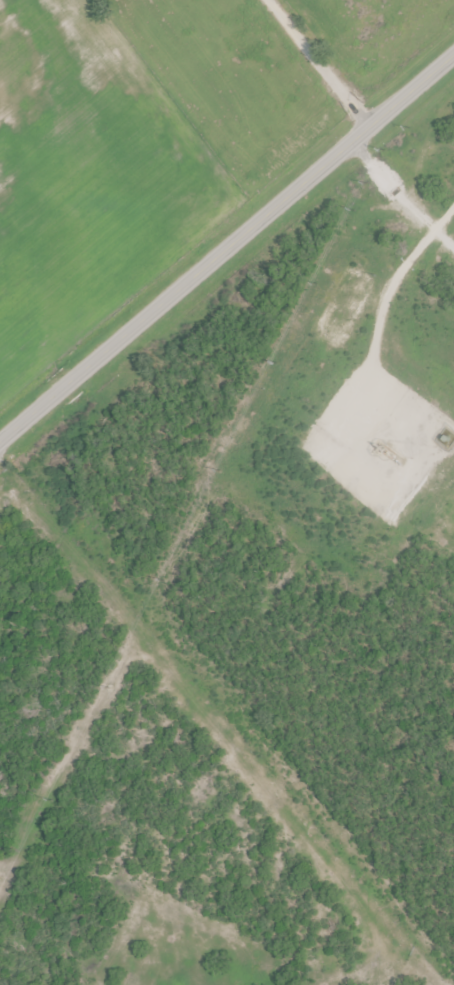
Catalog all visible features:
road: (357, 109)
road: (226, 247)
road: (391, 277)

